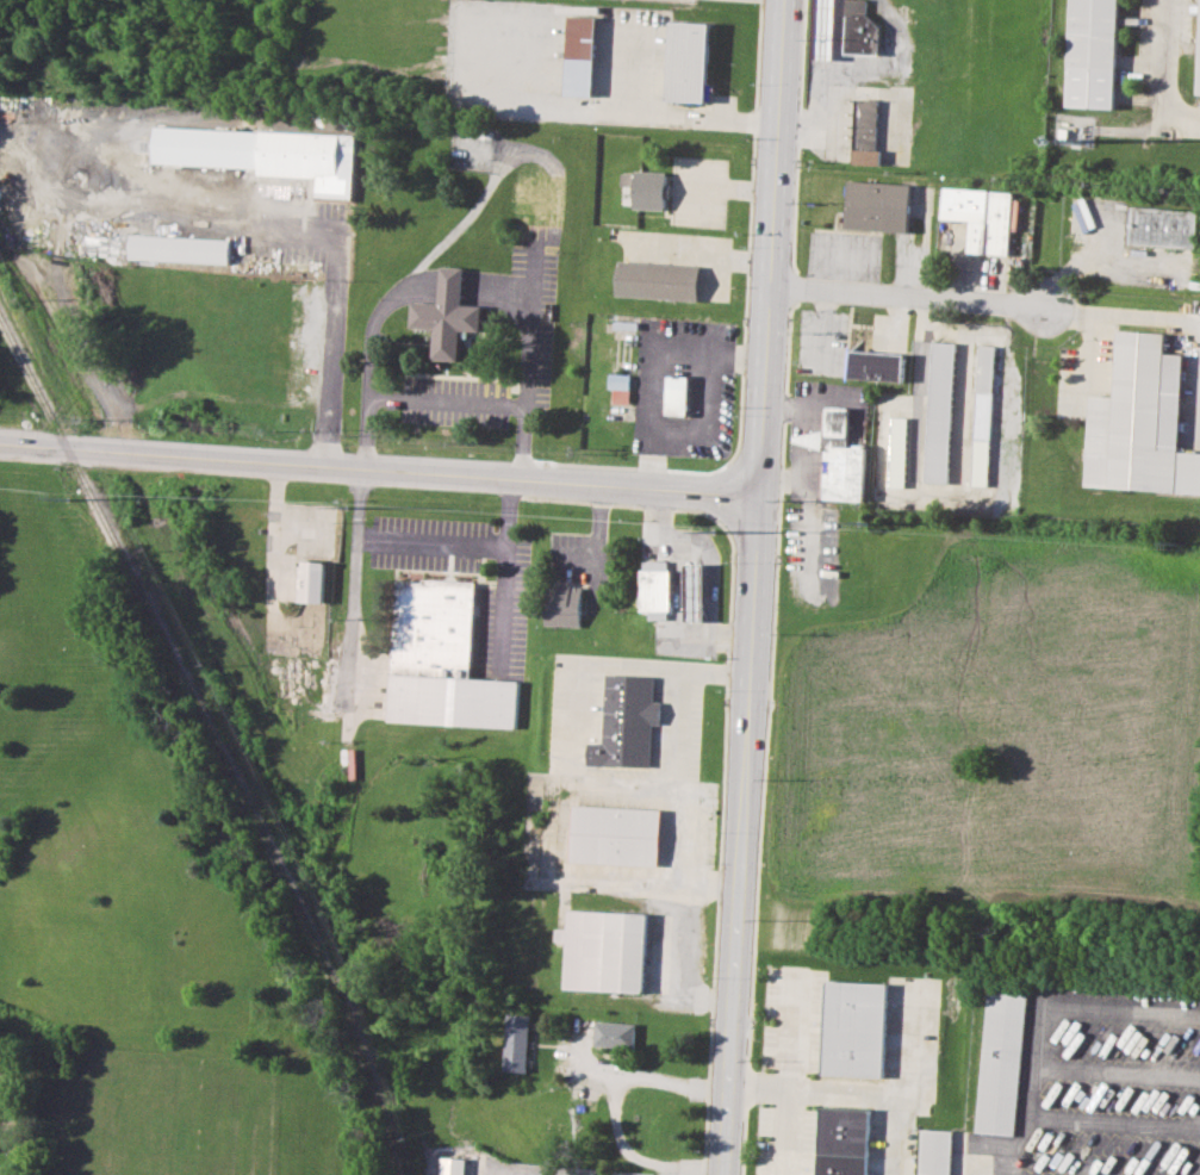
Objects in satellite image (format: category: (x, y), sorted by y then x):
building: (858, 30)
building: (1090, 54)
building: (1196, 54)
building: (579, 56)
road: (1162, 61)
building: (688, 62)
road: (851, 70)
building: (864, 132)
building: (266, 154)
building: (646, 188)
road: (738, 189)
building: (529, 199)
building: (876, 206)
building: (978, 217)
building: (1159, 228)
building: (180, 248)
road: (713, 253)
road: (329, 273)
road: (453, 280)
building: (657, 280)
road: (914, 293)
building: (448, 315)
road: (1125, 315)
road: (1087, 349)
road: (371, 354)
road: (528, 354)
road: (652, 361)
building: (875, 366)
building: (618, 386)
building: (676, 396)
road: (447, 402)
building: (938, 411)
building: (981, 414)
building: (1138, 421)
building: (809, 439)
road: (765, 442)
building: (896, 450)
building: (840, 459)
road: (380, 472)
road: (429, 542)
building: (312, 582)
building: (654, 589)
building: (695, 591)
road: (678, 598)
building: (562, 604)
building: (441, 660)
building: (627, 722)
railway: (214, 733)
road: (570, 750)
road: (674, 776)
building: (616, 834)
road: (711, 885)
building: (605, 950)
road: (674, 970)
road: (899, 981)
building: (856, 1028)
road: (738, 1031)
building: (615, 1033)
building: (517, 1043)
building: (1001, 1059)
road: (766, 1088)
road: (614, 1092)
road: (853, 1093)
road: (794, 1132)
building: (844, 1140)
building: (935, 1151)
building: (453, 1165)

